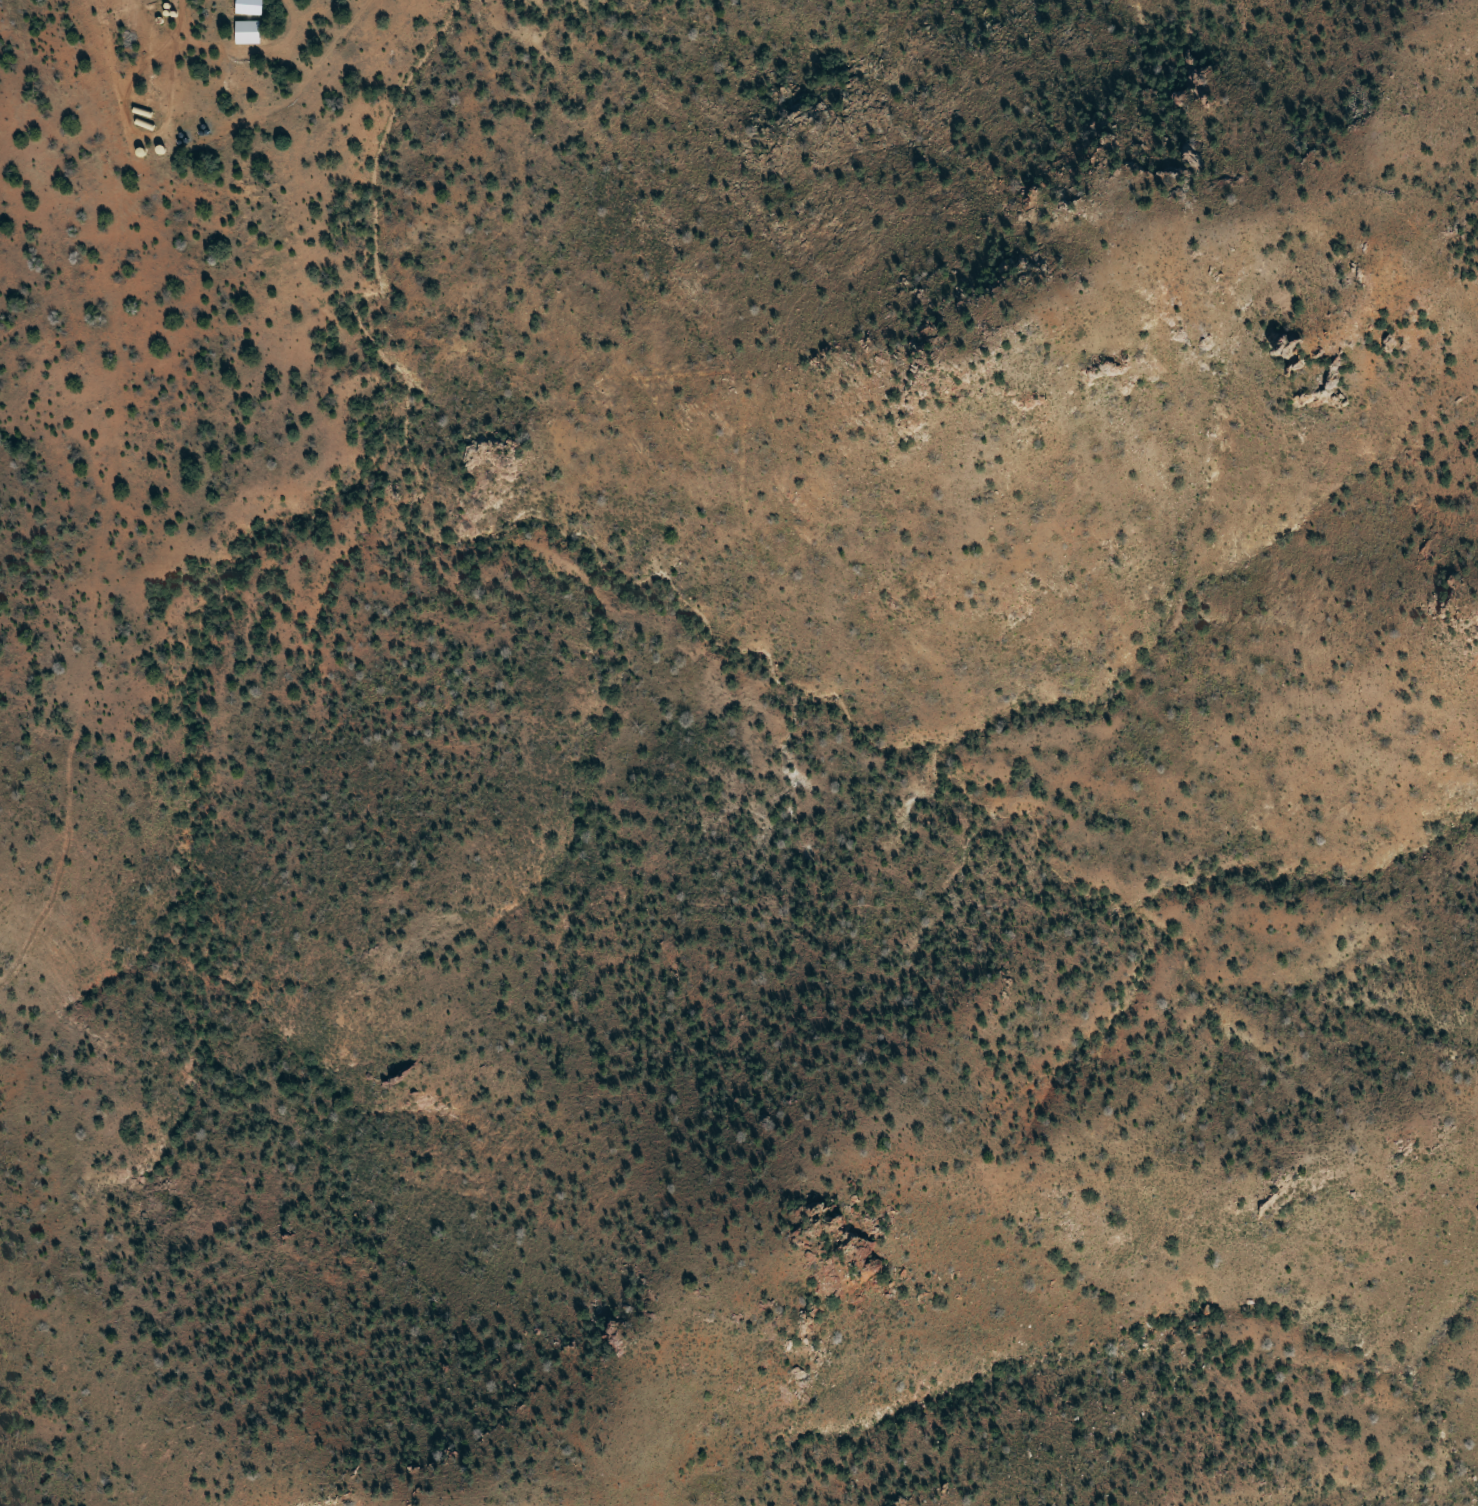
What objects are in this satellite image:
building: (248, 7)
building: (246, 33)

